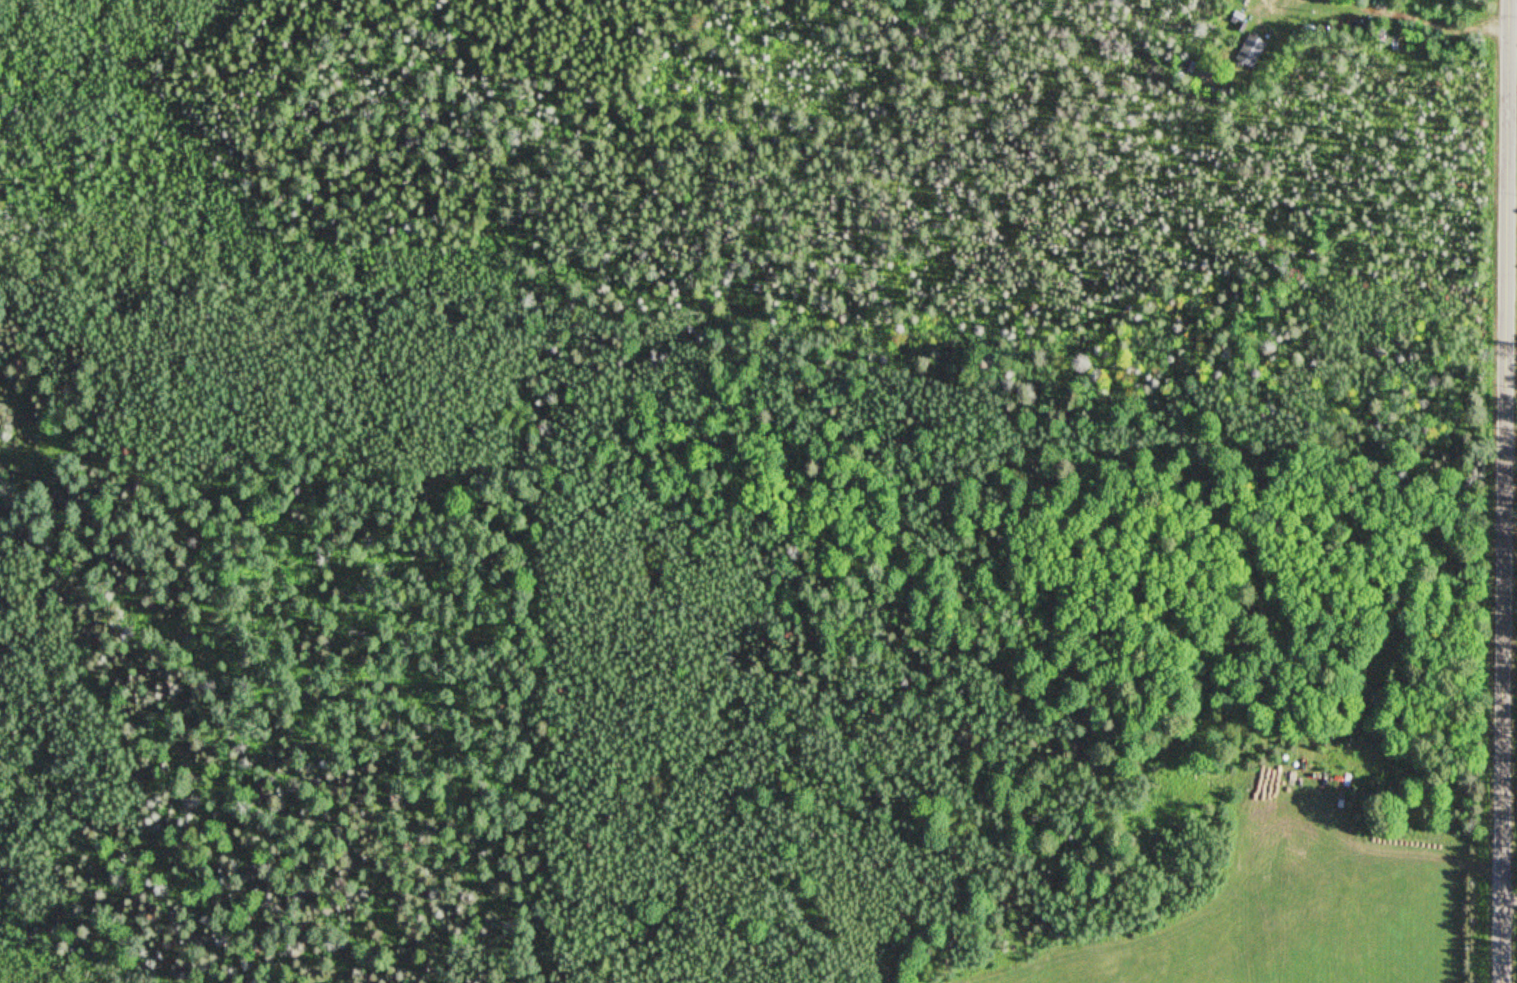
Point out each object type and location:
road: (1416, 13)
building: (1250, 51)
road: (1504, 491)

